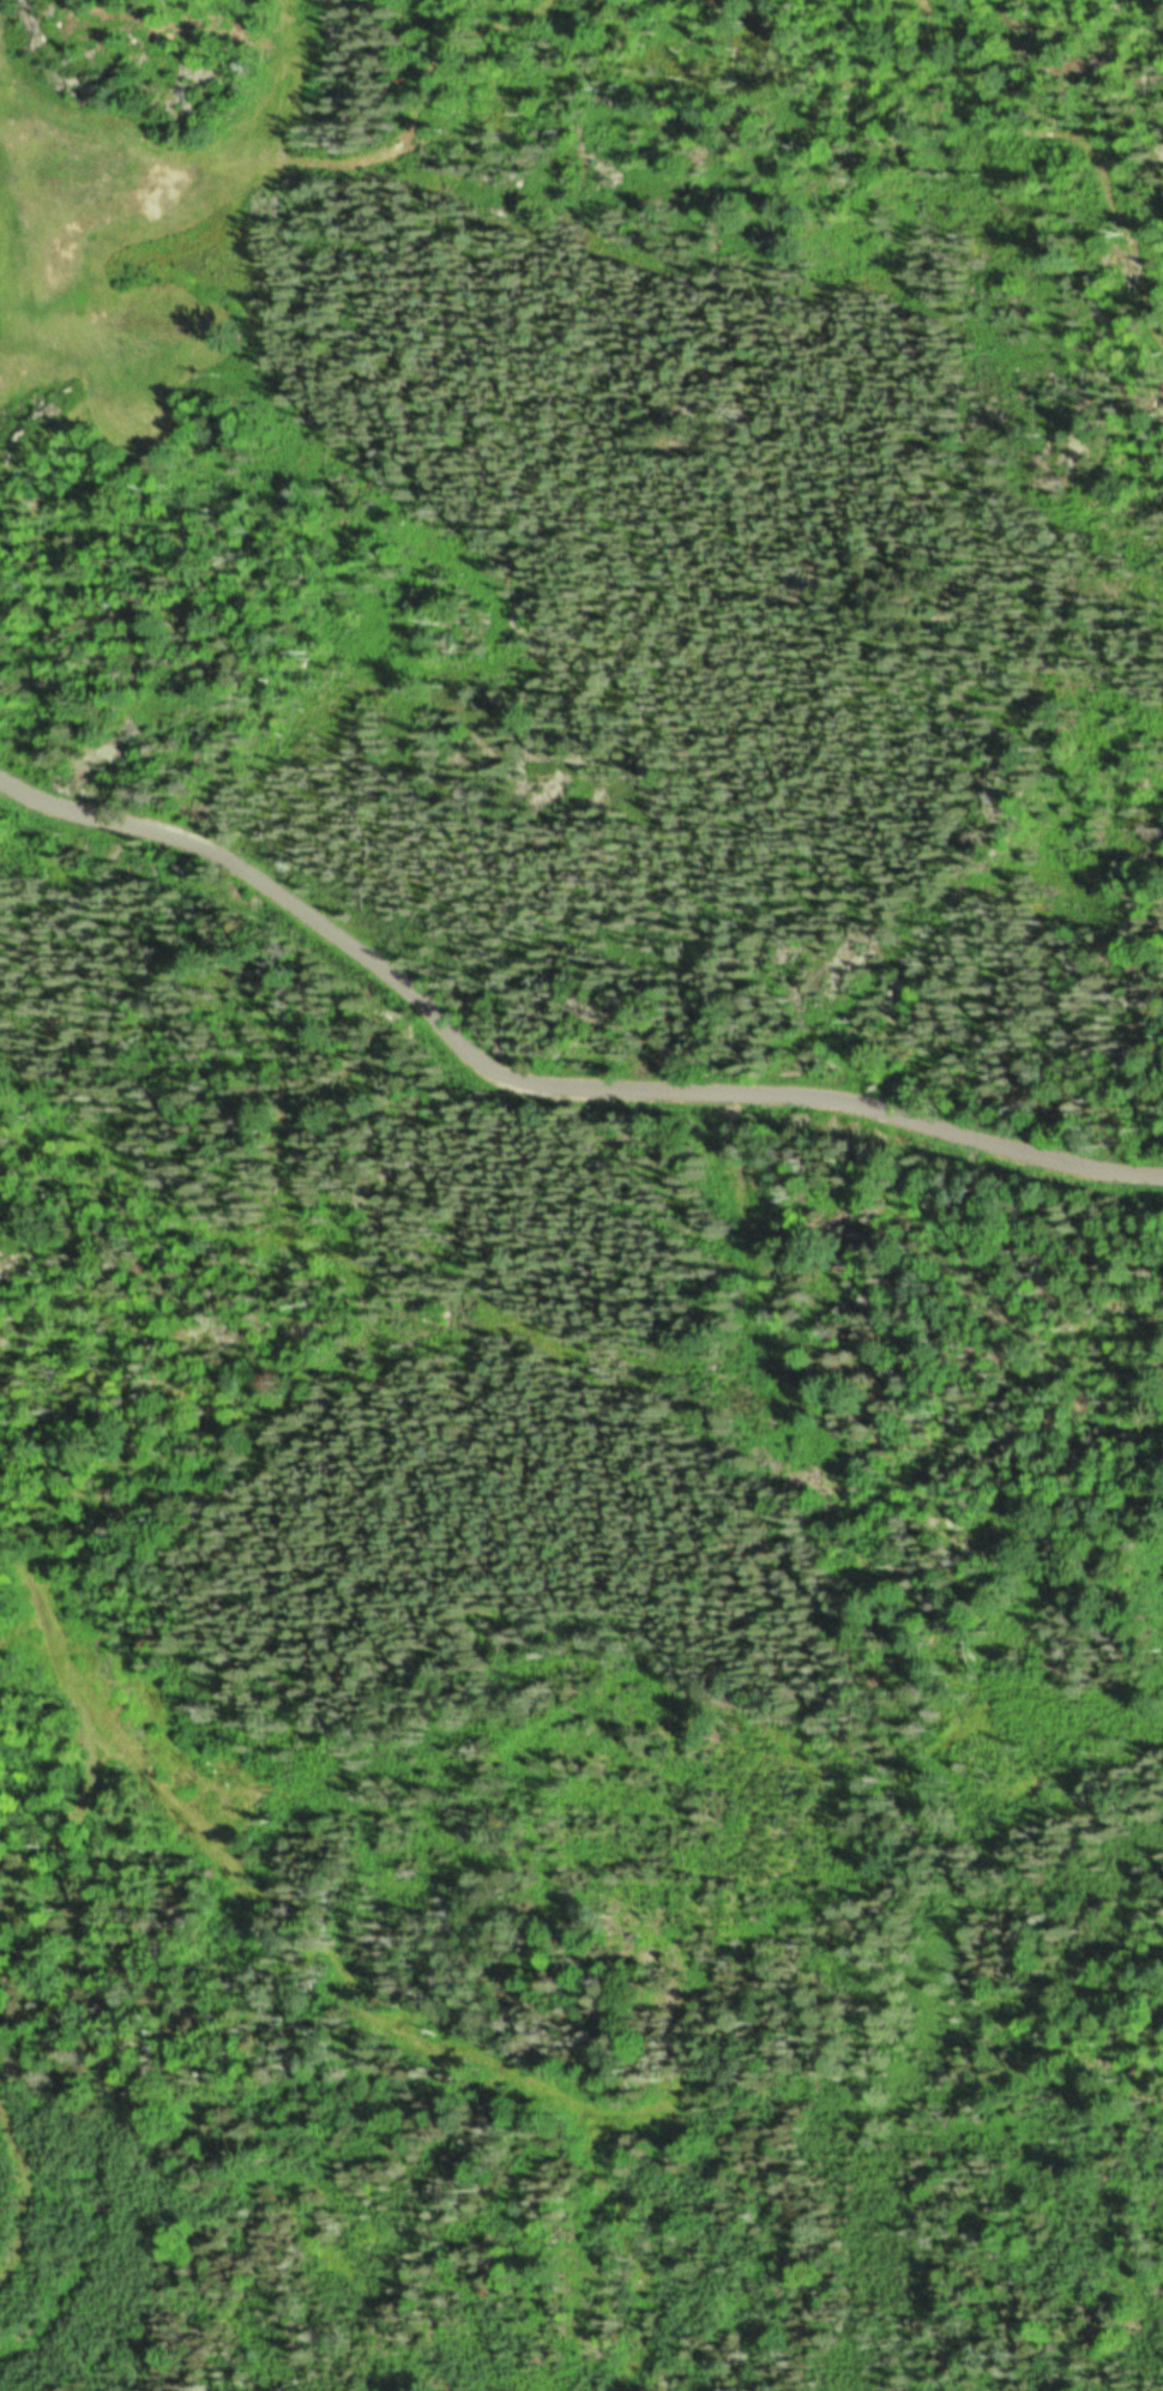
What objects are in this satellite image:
road: (541, 1072)

